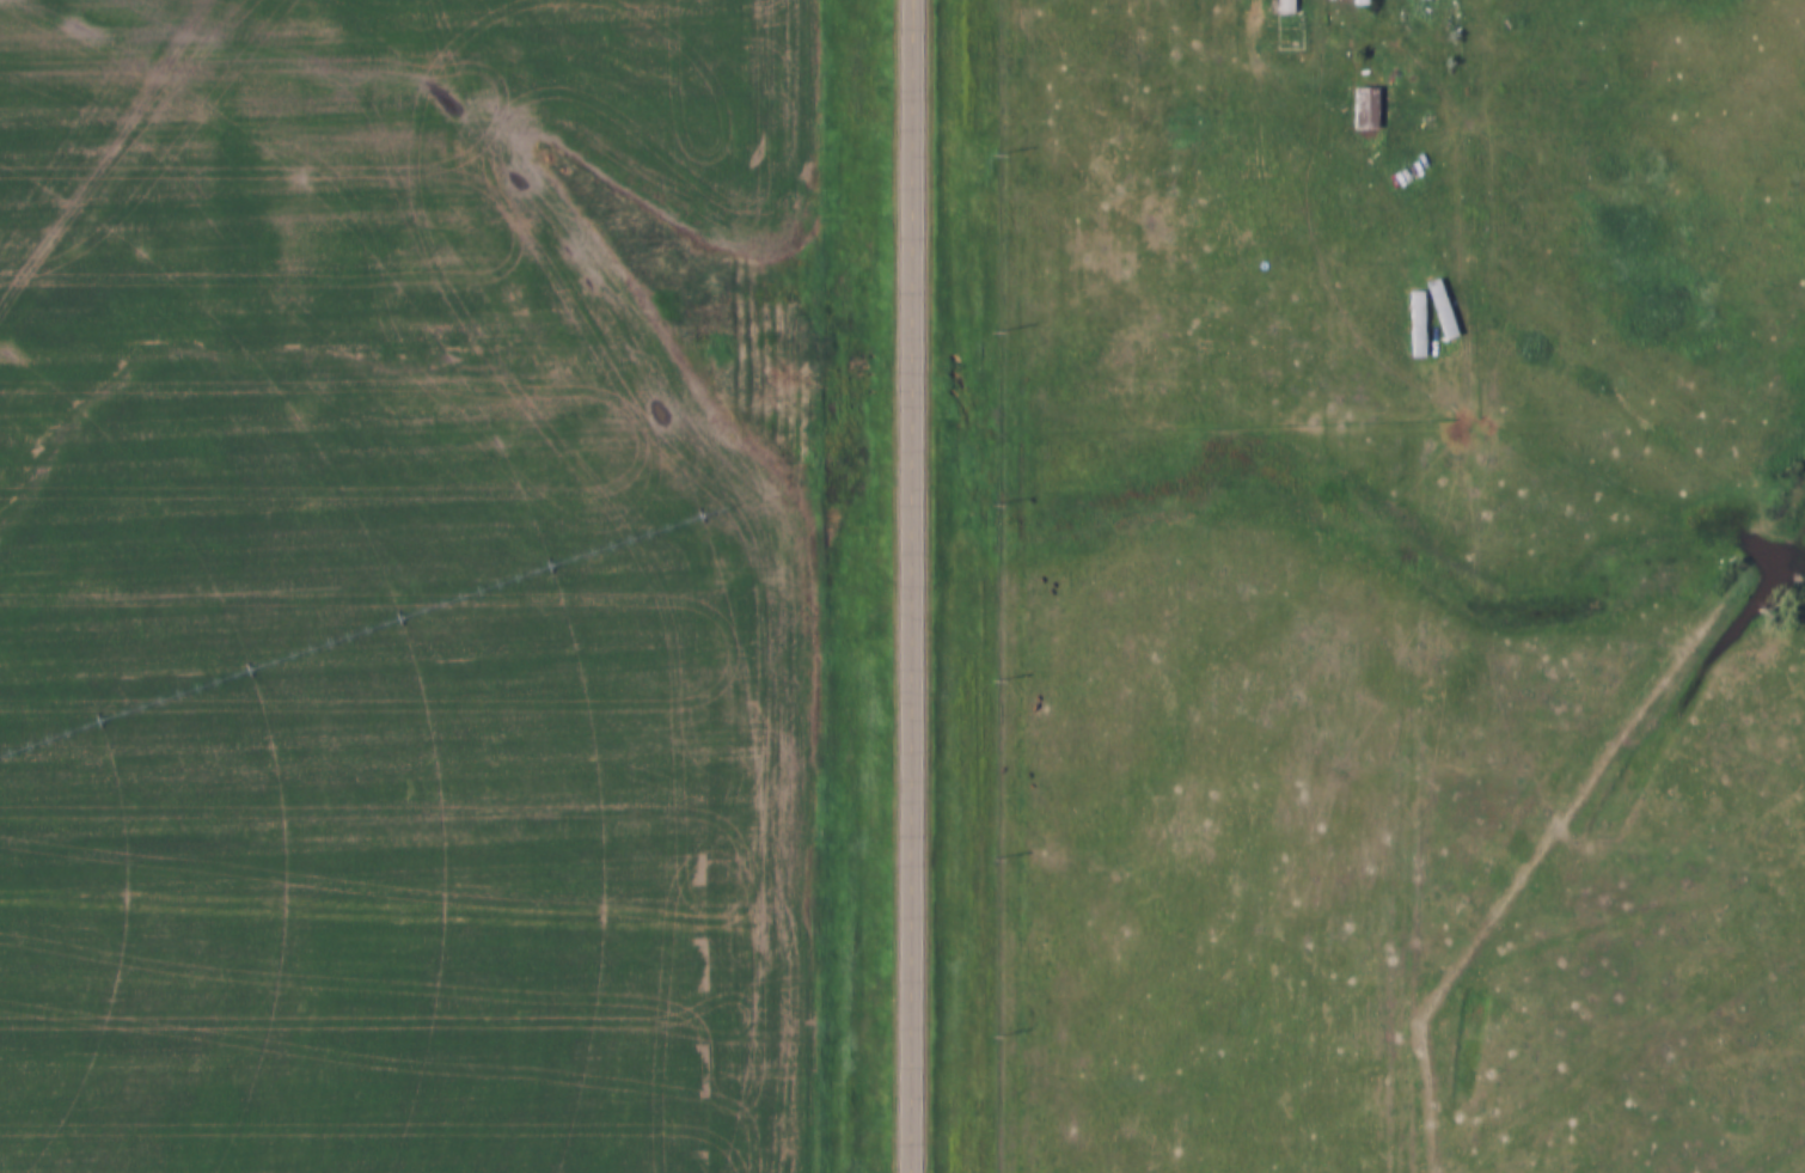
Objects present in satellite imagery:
building: (1362, 2)
building: (1287, 6)
road: (1418, 18)
building: (1365, 109)
building: (1443, 307)
building: (1419, 323)
crop: (406, 585)
road: (913, 586)

